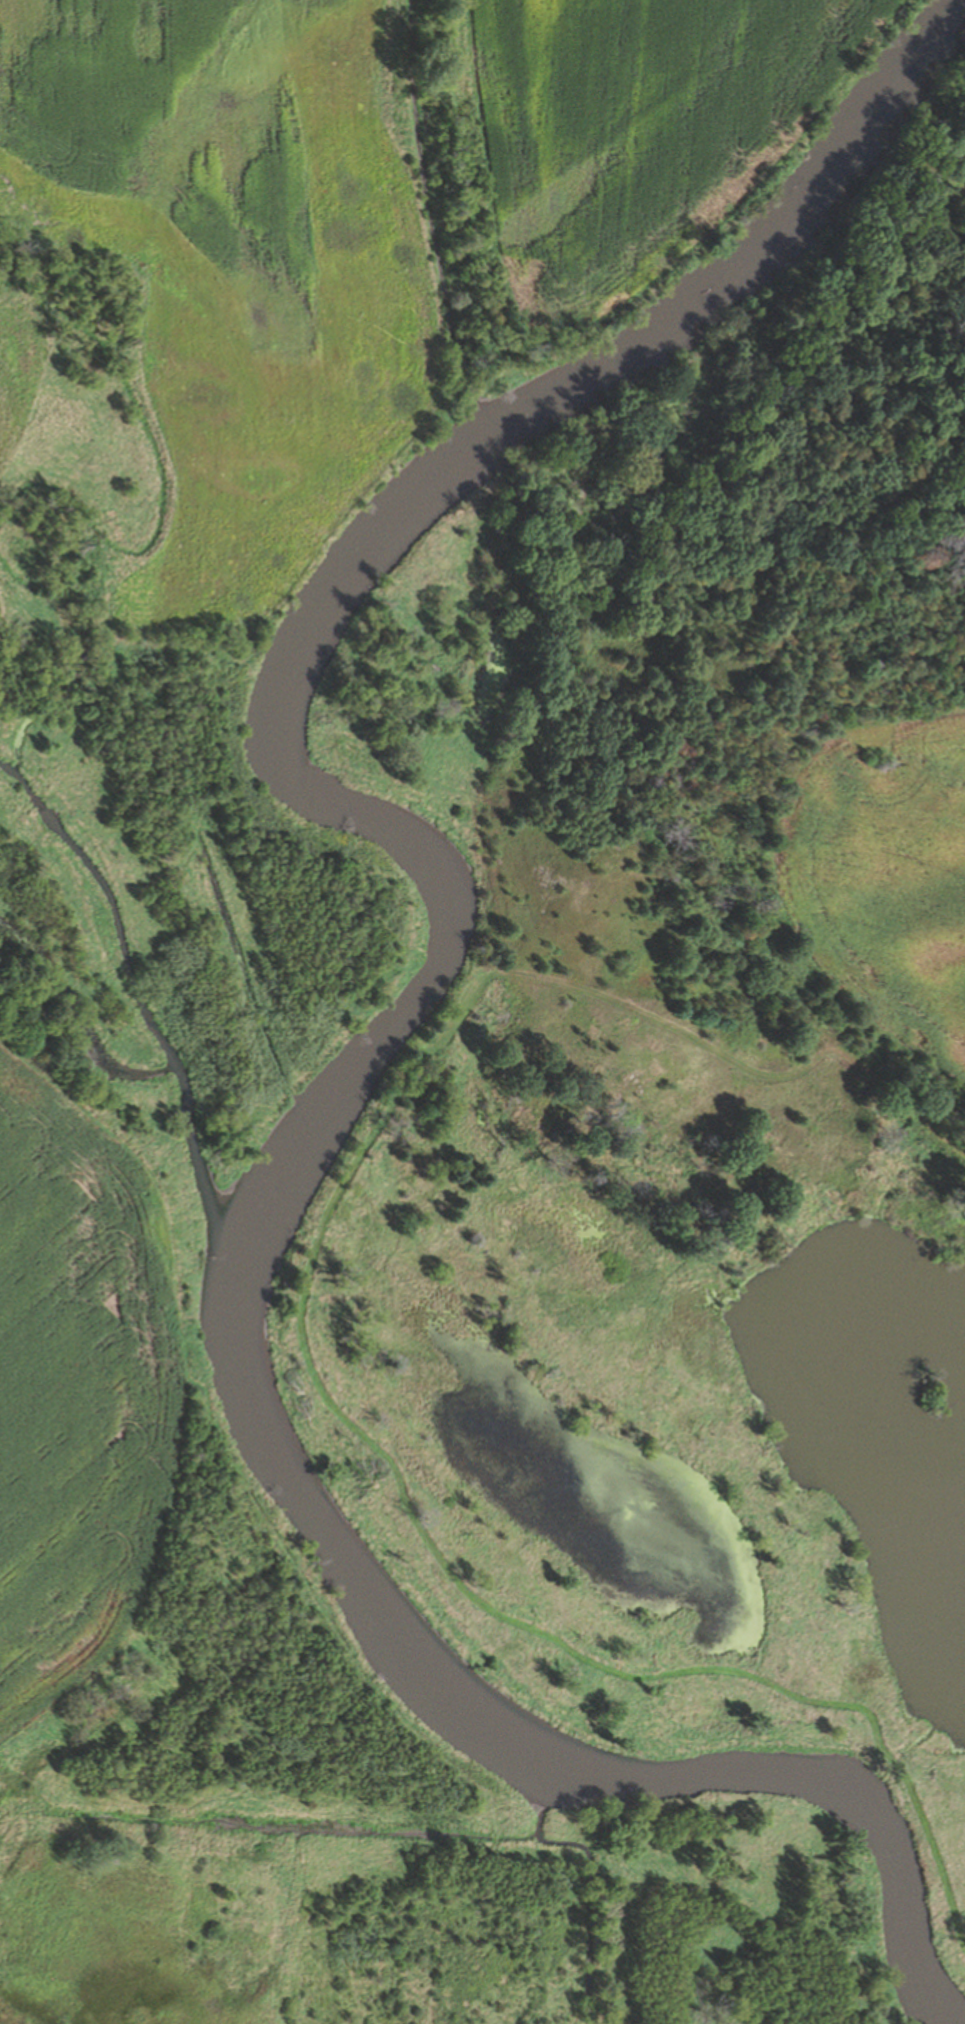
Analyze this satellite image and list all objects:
river: (377, 1058)

